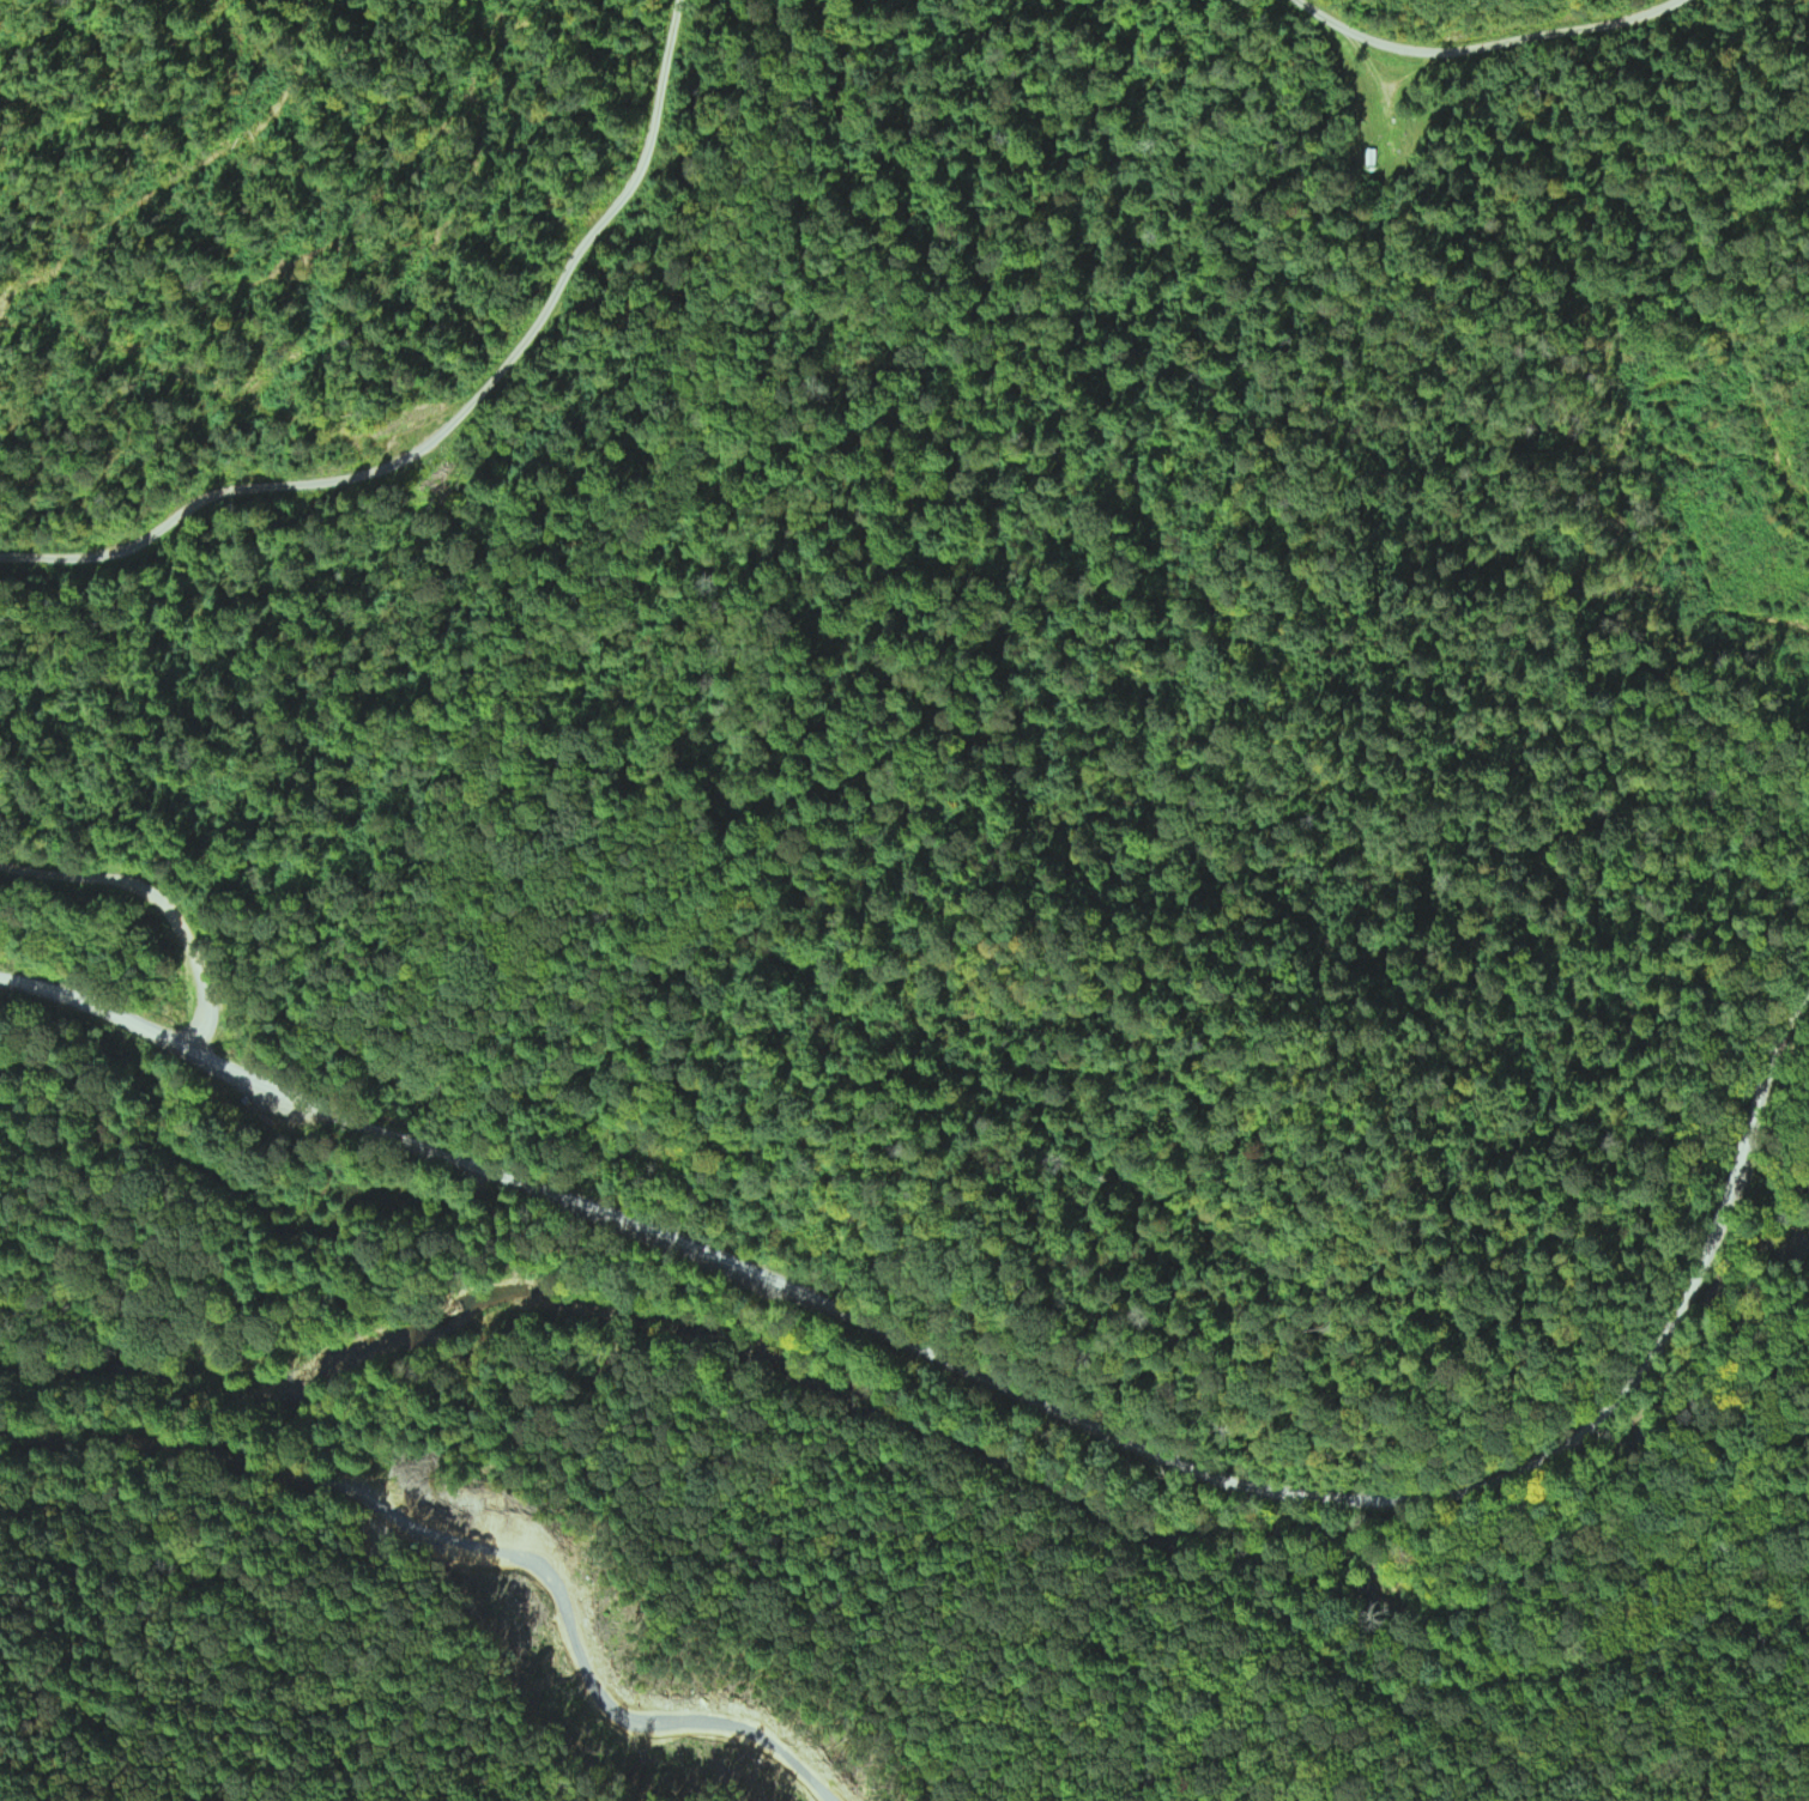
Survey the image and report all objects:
road: (1711, 1247)
road: (775, 1281)

